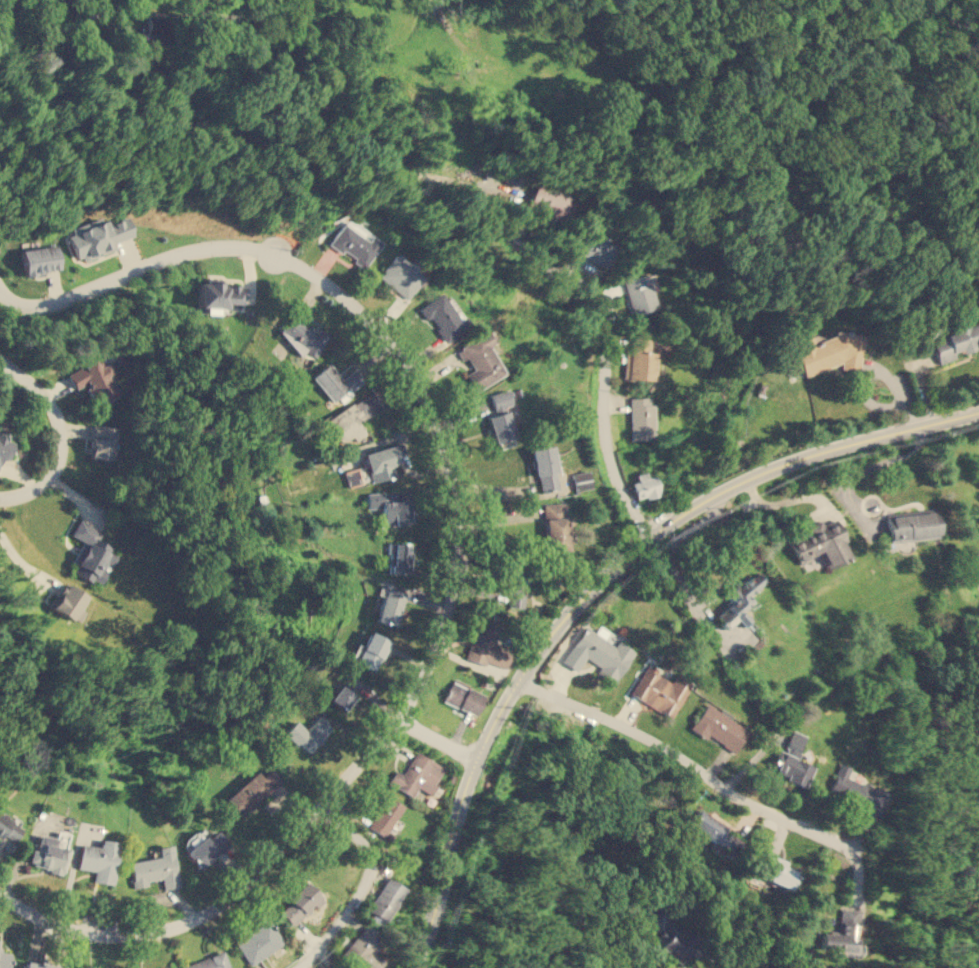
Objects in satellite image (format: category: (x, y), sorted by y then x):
road: (430, 0)
road: (56, 23)
road: (360, 71)
road: (254, 140)
building: (556, 205)
building: (99, 237)
building: (354, 242)
building: (597, 250)
building: (40, 259)
building: (401, 275)
building: (638, 294)
building: (219, 296)
building: (443, 316)
building: (302, 334)
building: (955, 340)
building: (828, 351)
road: (604, 357)
building: (636, 359)
building: (480, 361)
building: (94, 380)
building: (336, 381)
road: (744, 410)
building: (640, 417)
building: (351, 418)
building: (501, 419)
road: (60, 436)
building: (101, 441)
building: (6, 446)
building: (380, 462)
building: (545, 468)
building: (581, 479)
building: (644, 485)
building: (389, 508)
building: (912, 524)
building: (555, 525)
building: (822, 543)
road: (633, 548)
building: (89, 551)
building: (398, 557)
road: (456, 558)
building: (513, 584)
building: (68, 600)
building: (739, 600)
building: (390, 605)
building: (485, 648)
building: (370, 650)
building: (598, 653)
building: (660, 690)
building: (344, 691)
building: (462, 696)
building: (719, 726)
building: (307, 732)
road: (439, 739)
building: (792, 759)
road: (687, 760)
building: (416, 775)
building: (253, 789)
building: (859, 795)
building: (385, 815)
building: (706, 824)
building: (8, 825)
building: (207, 848)
building: (49, 854)
building: (99, 859)
building: (155, 868)
building: (778, 872)
road: (363, 887)
building: (384, 900)
building: (300, 904)
road: (425, 917)
building: (842, 931)
road: (628, 935)
building: (674, 935)
building: (259, 942)
building: (363, 948)
building: (4, 959)
building: (210, 961)
building: (42, 965)
building: (329, 966)
building: (173, 967)
building: (175, 967)

